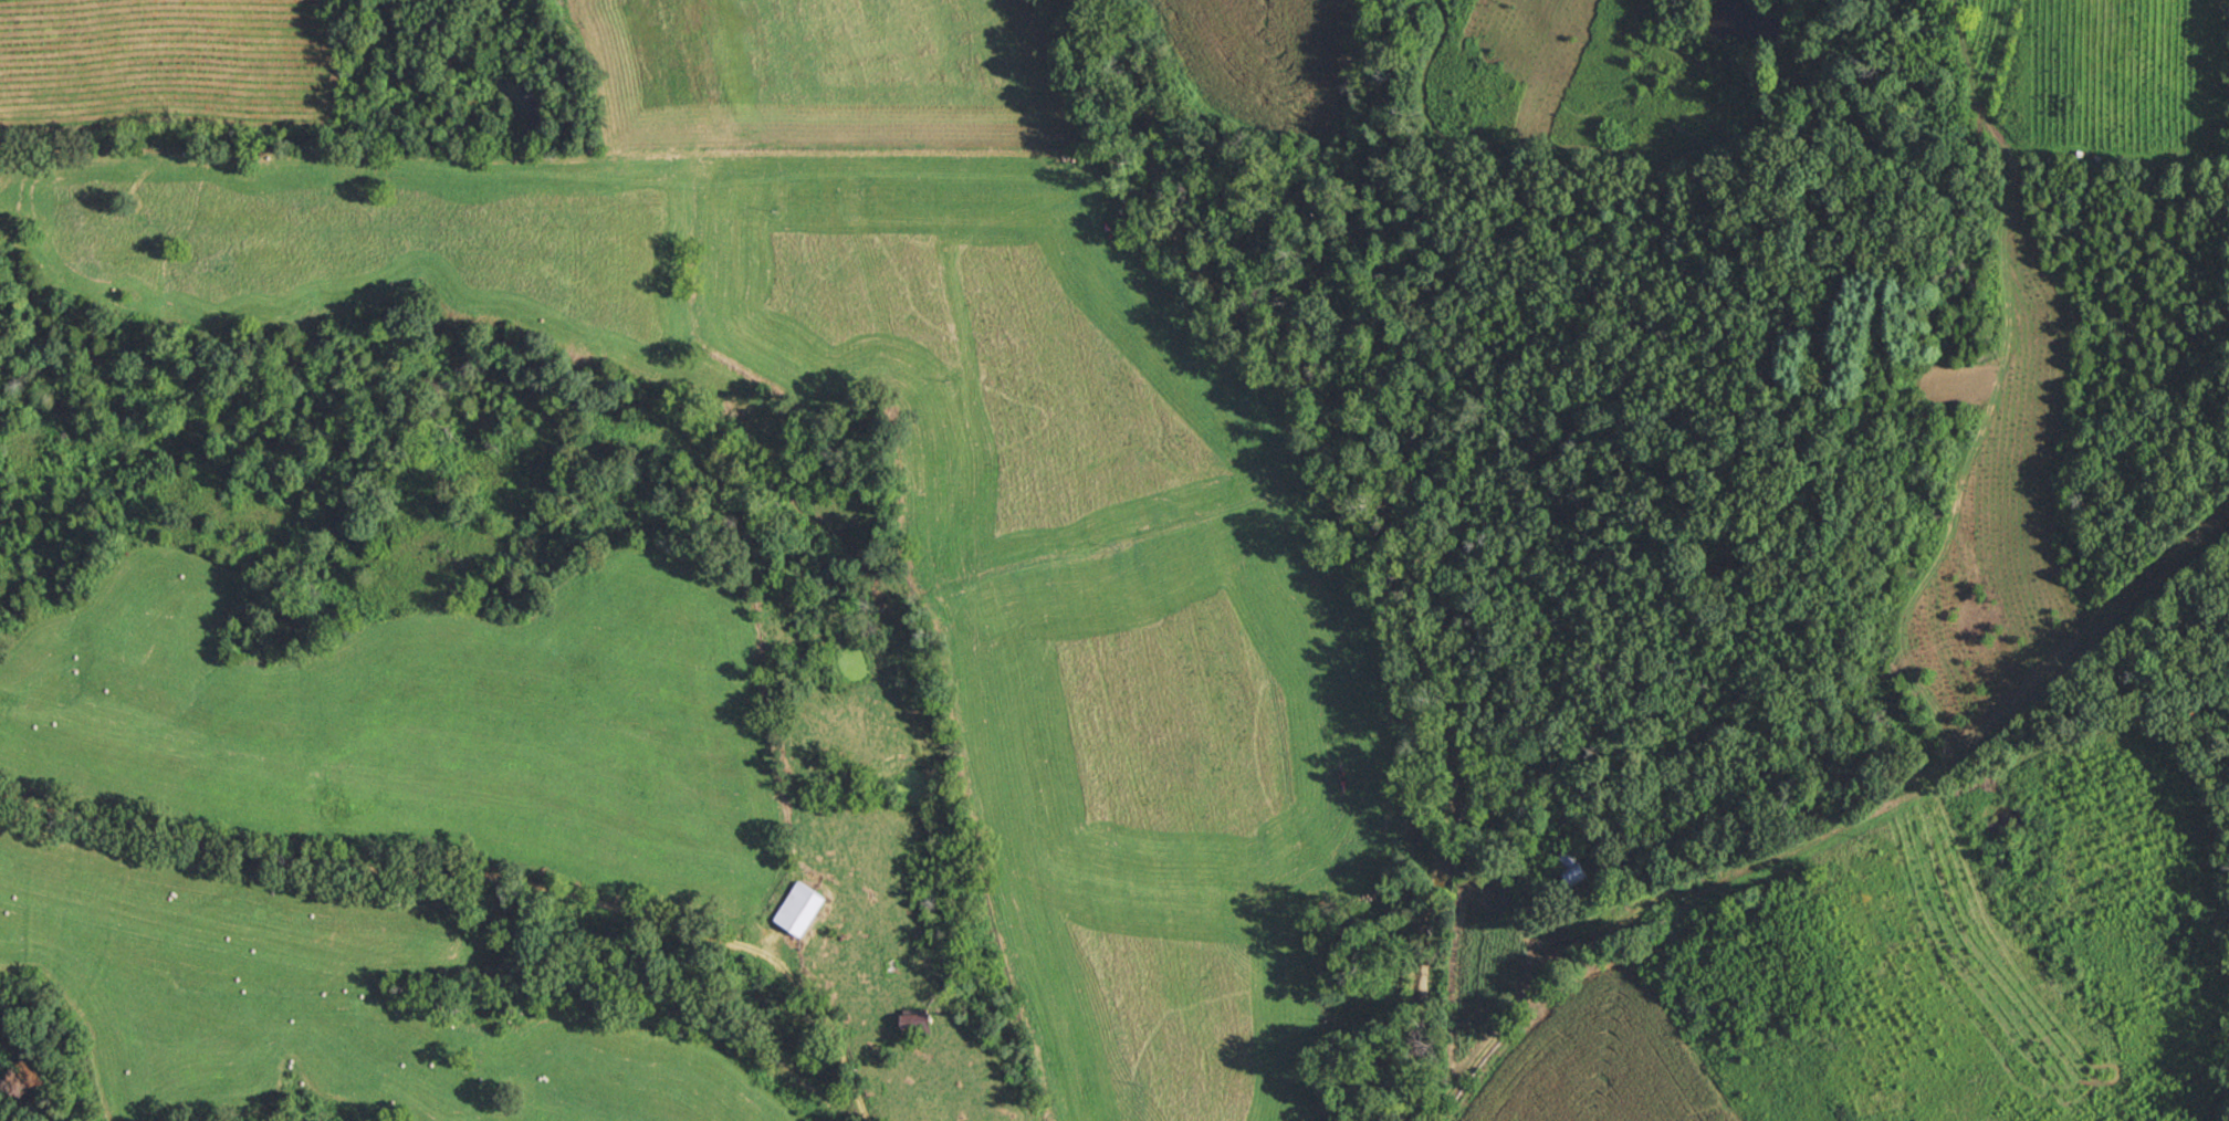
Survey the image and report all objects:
park: (864, 458)
building: (1572, 867)
road: (473, 895)
building: (800, 909)
road: (1518, 1012)
building: (918, 1022)

